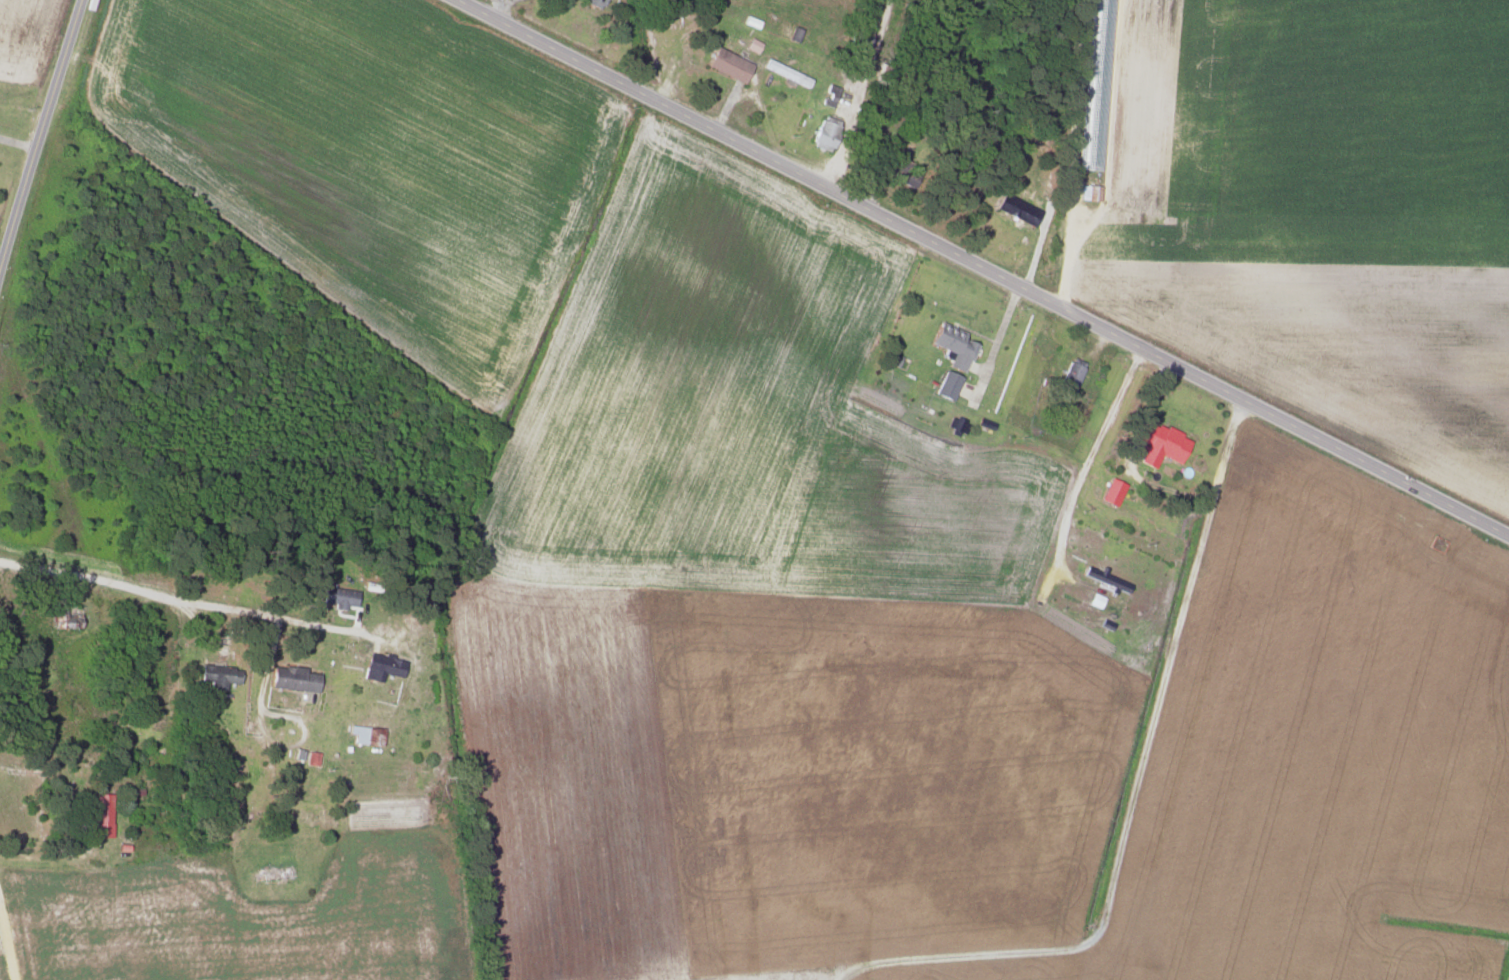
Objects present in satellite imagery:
building: (594, 3)
building: (857, 37)
building: (752, 45)
building: (728, 64)
building: (780, 70)
building: (824, 133)
road: (34, 148)
building: (902, 172)
building: (1016, 209)
road: (981, 268)
building: (951, 345)
building: (1071, 376)
building: (946, 386)
building: (1160, 444)
building: (1112, 492)
building: (1103, 577)
building: (338, 596)
road: (194, 599)
building: (64, 618)
building: (380, 665)
building: (217, 675)
building: (292, 678)
building: (366, 734)
building: (297, 754)
building: (312, 758)
building: (101, 814)
building: (278, 873)

